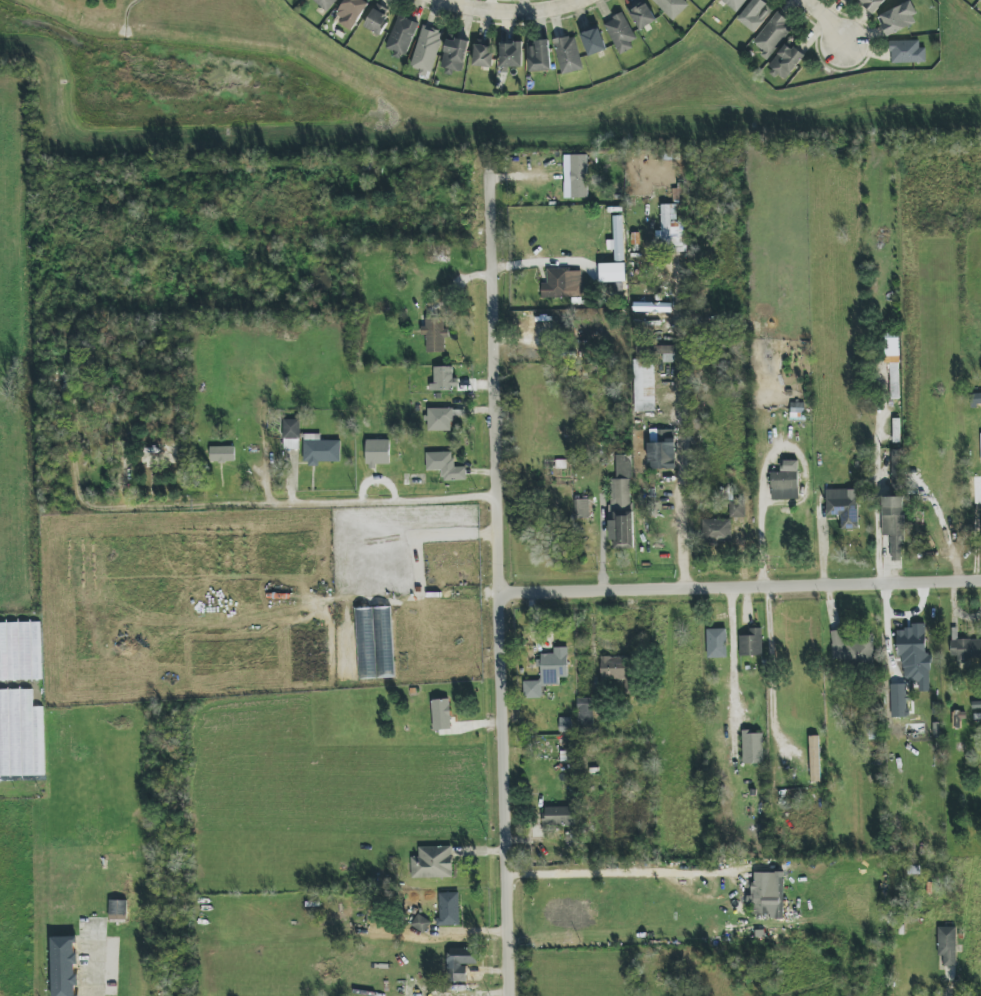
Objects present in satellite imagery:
building: (850, 0)
building: (980, 0)
building: (326, 4)
building: (735, 4)
building: (872, 4)
building: (671, 7)
building: (351, 11)
road: (510, 13)
building: (755, 15)
building: (643, 16)
building: (898, 19)
building: (378, 20)
road: (829, 21)
building: (621, 32)
building: (402, 35)
building: (773, 35)
building: (594, 42)
building: (426, 50)
building: (907, 52)
building: (483, 54)
building: (568, 54)
building: (511, 55)
building: (454, 56)
building: (539, 56)
building: (786, 61)
building: (579, 176)
building: (671, 231)
building: (605, 254)
building: (582, 258)
building: (563, 283)
building: (435, 334)
building: (657, 352)
building: (891, 358)
building: (443, 378)
building: (644, 384)
building: (797, 410)
building: (440, 419)
road: (680, 430)
building: (291, 434)
building: (320, 450)
building: (663, 451)
building: (377, 453)
building: (222, 454)
building: (445, 466)
building: (897, 469)
building: (786, 482)
road: (315, 502)
building: (622, 504)
building: (843, 506)
building: (582, 508)
building: (737, 509)
building: (893, 524)
building: (717, 529)
road: (761, 536)
road: (976, 542)
road: (602, 545)
road: (879, 554)
road: (499, 586)
road: (740, 592)
building: (382, 613)
building: (911, 640)
building: (717, 643)
building: (751, 643)
road: (732, 644)
building: (852, 647)
building: (965, 648)
building: (615, 668)
road: (773, 671)
building: (548, 673)
building: (898, 686)
building: (585, 711)
building: (441, 714)
building: (565, 724)
building: (16, 733)
building: (753, 747)
building: (815, 759)
building: (559, 816)
building: (433, 863)
road: (620, 871)
building: (767, 895)
building: (449, 909)
building: (118, 910)
building: (420, 923)
building: (947, 945)
building: (460, 963)
road: (95, 964)
road: (168, 964)
building: (65, 966)

